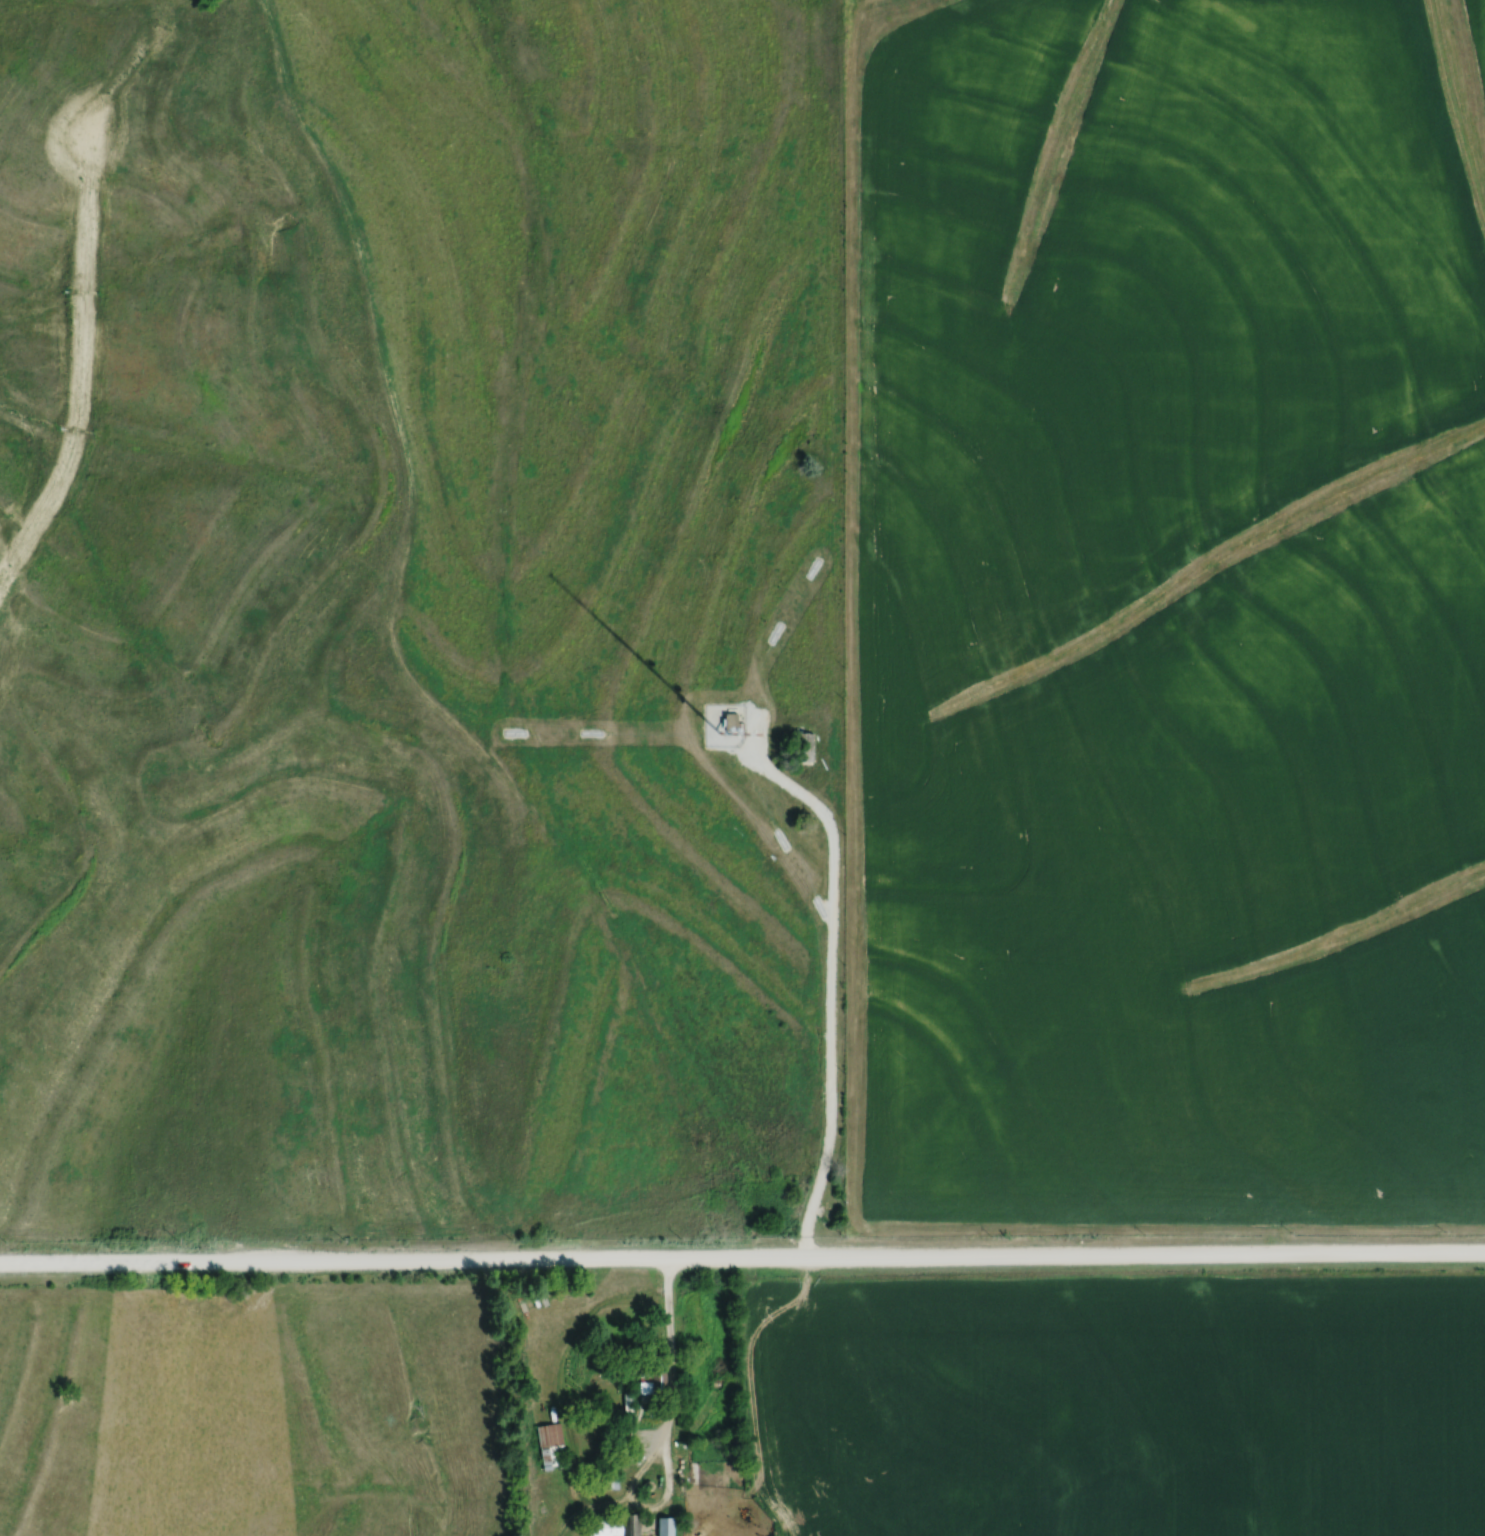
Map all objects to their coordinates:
building: (730, 720)
building: (802, 745)
road: (832, 987)
road: (742, 1263)
road: (671, 1367)
building: (553, 1438)
building: (612, 1526)
building: (664, 1526)

